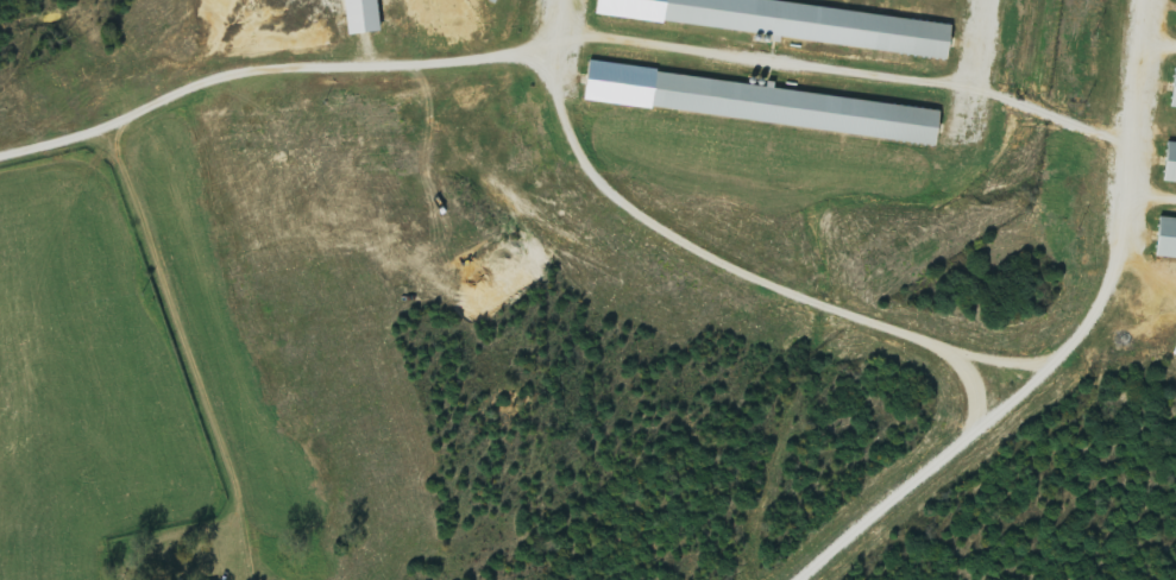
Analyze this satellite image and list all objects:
building: (367, 17)
building: (797, 23)
building: (761, 105)
building: (1172, 168)
building: (1169, 241)

